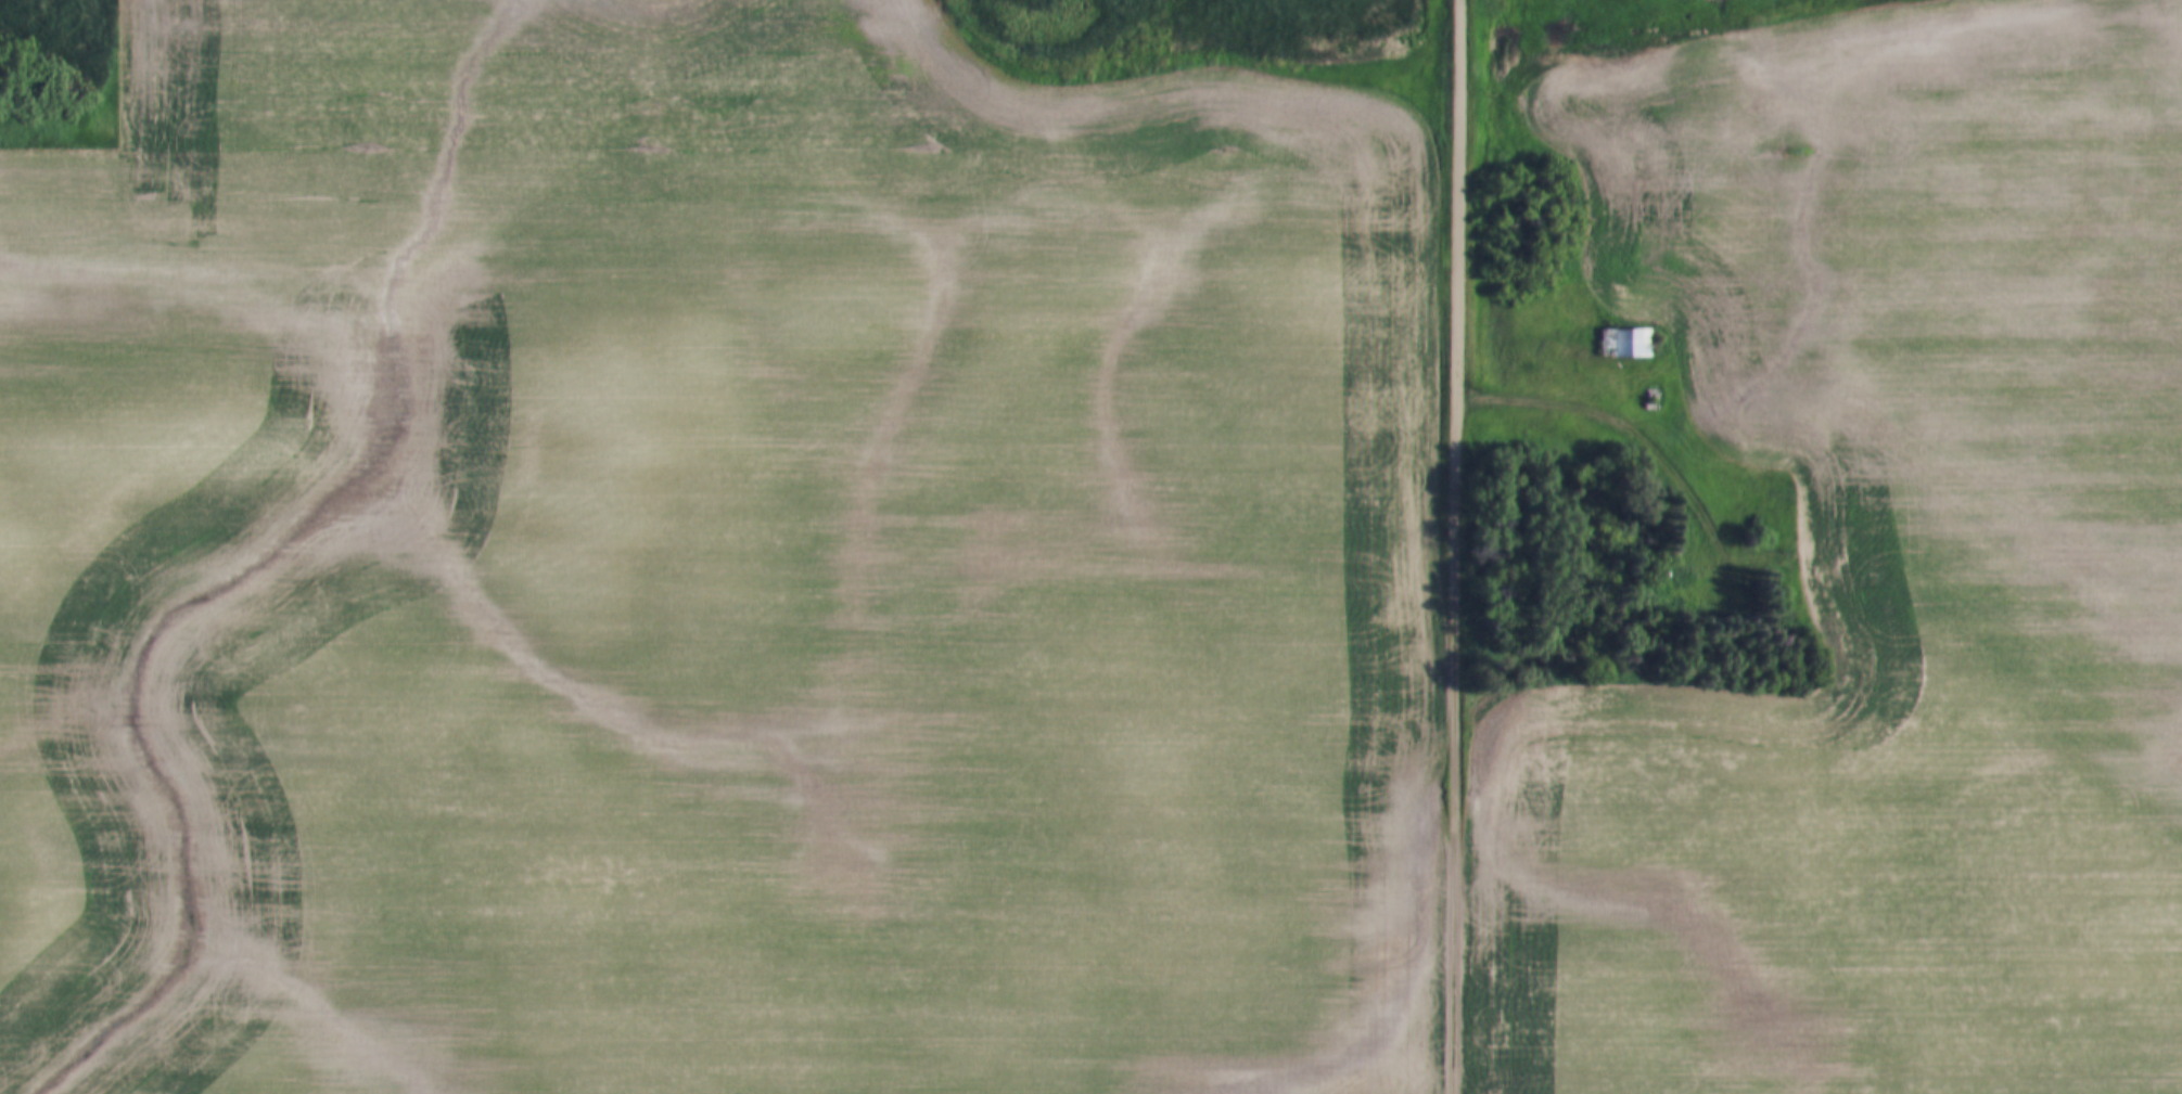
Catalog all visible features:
road: (924, 14)
road: (118, 128)
building: (1624, 345)
road: (1636, 429)
road: (1459, 546)

